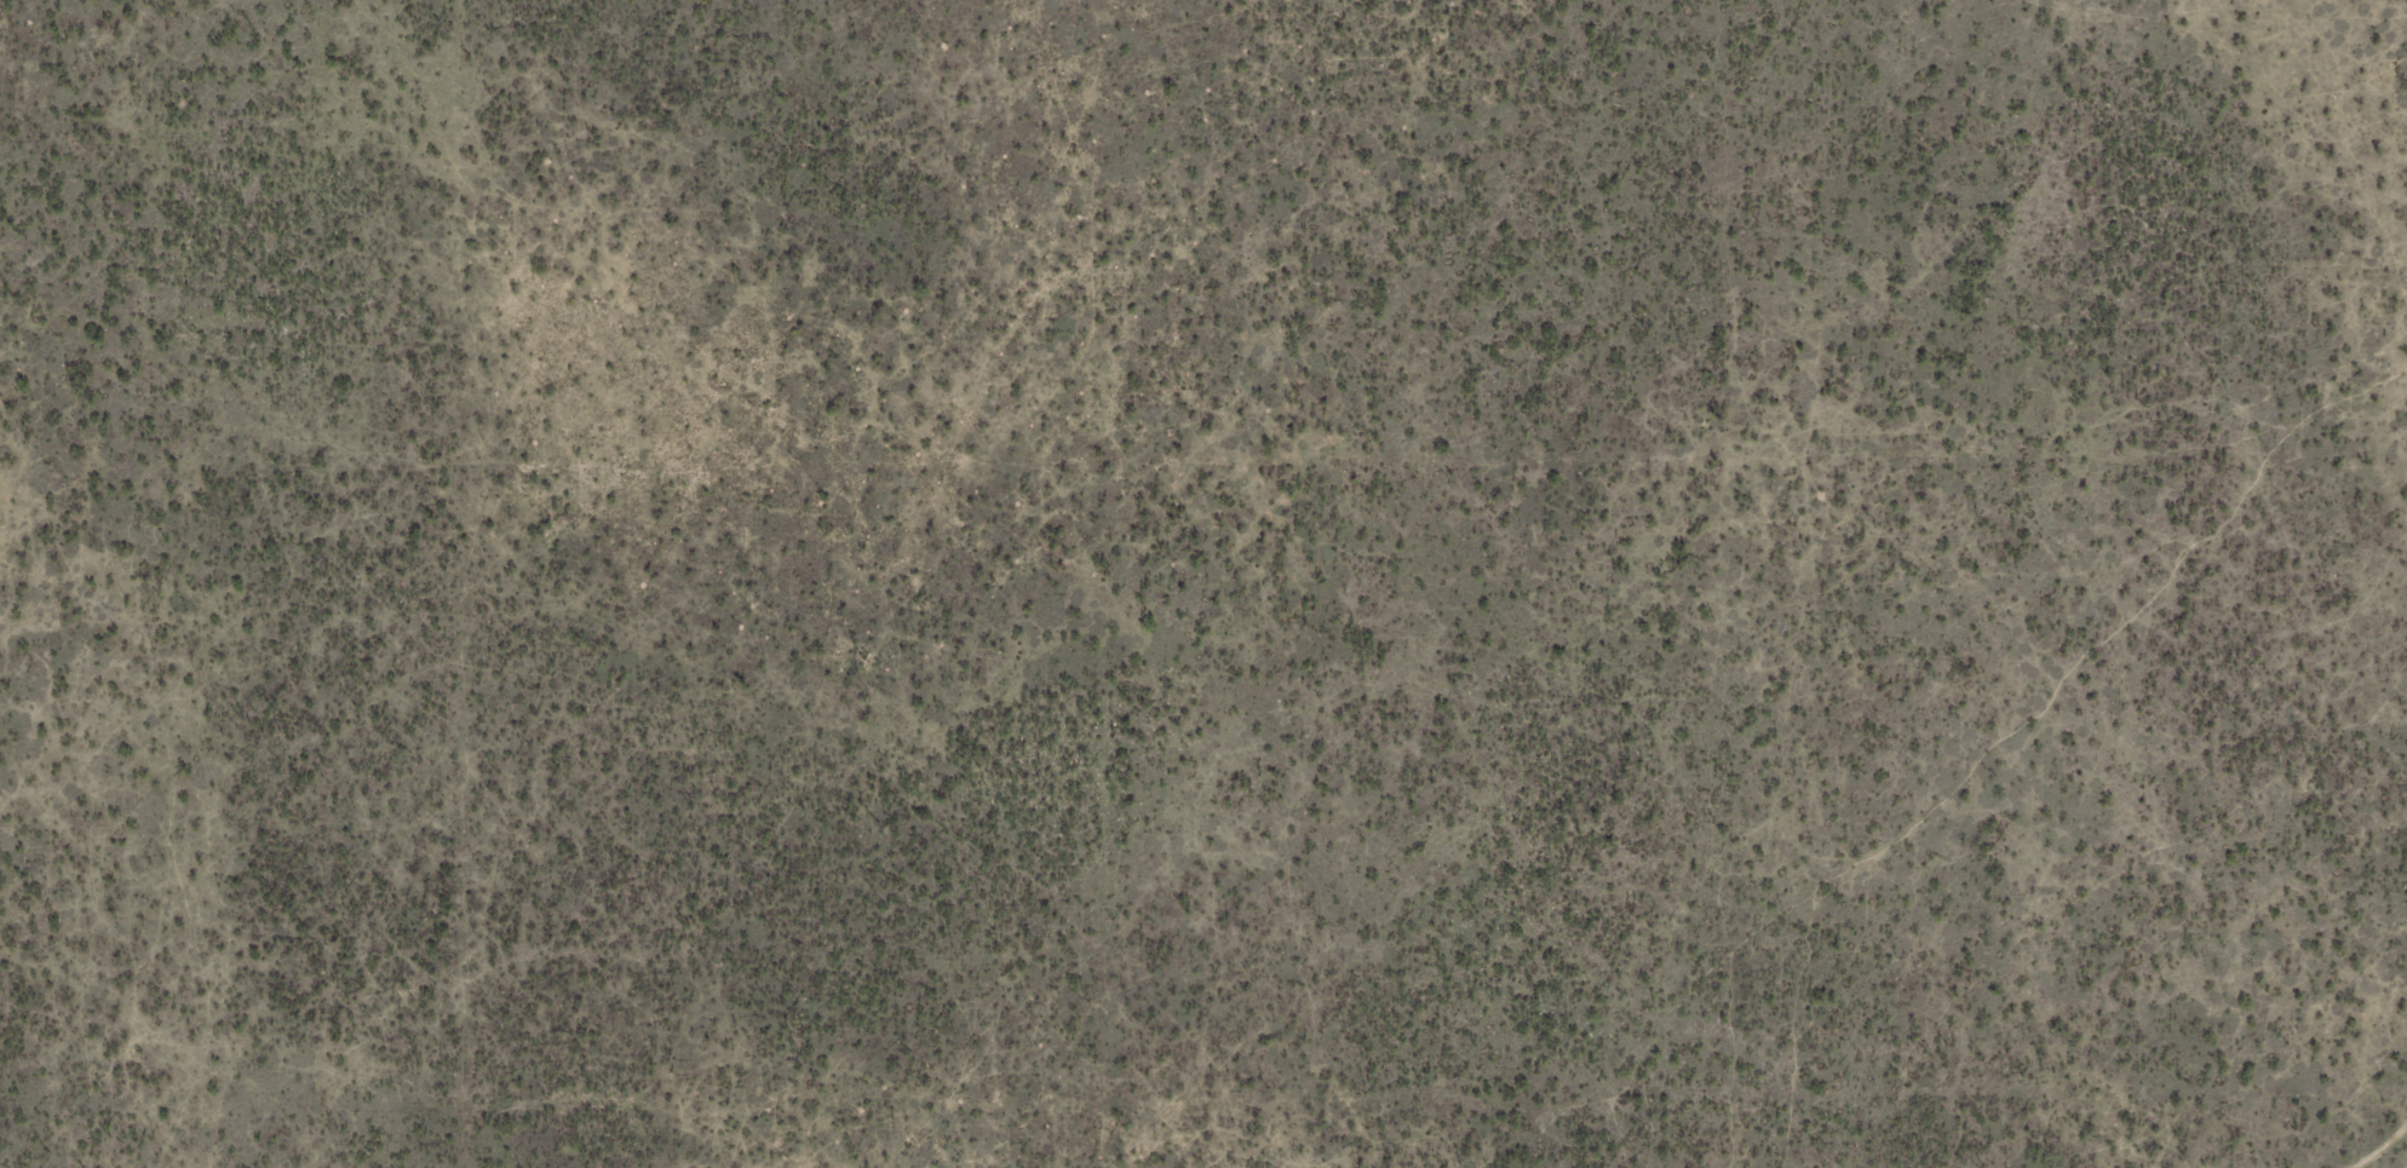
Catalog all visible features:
road: (2399, 1162)

